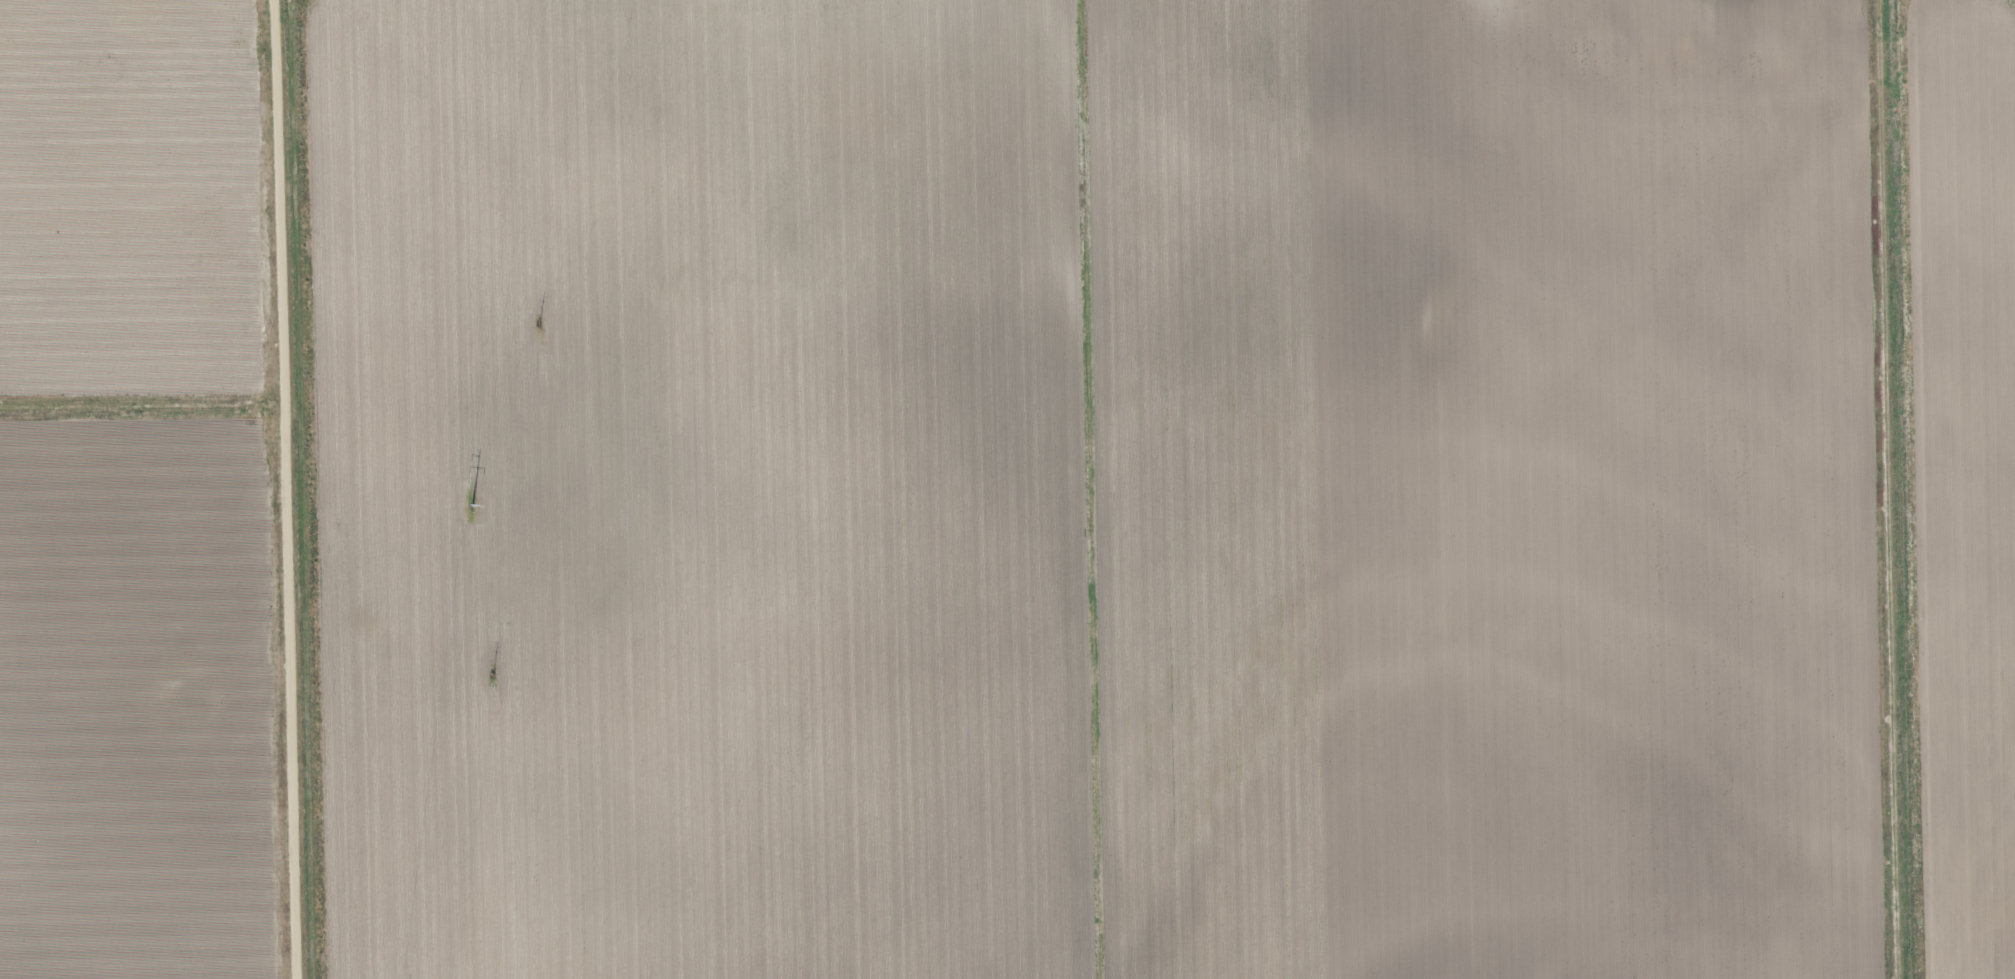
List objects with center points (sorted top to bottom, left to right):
road: (285, 489)
road: (1884, 489)
power tower: (466, 504)

